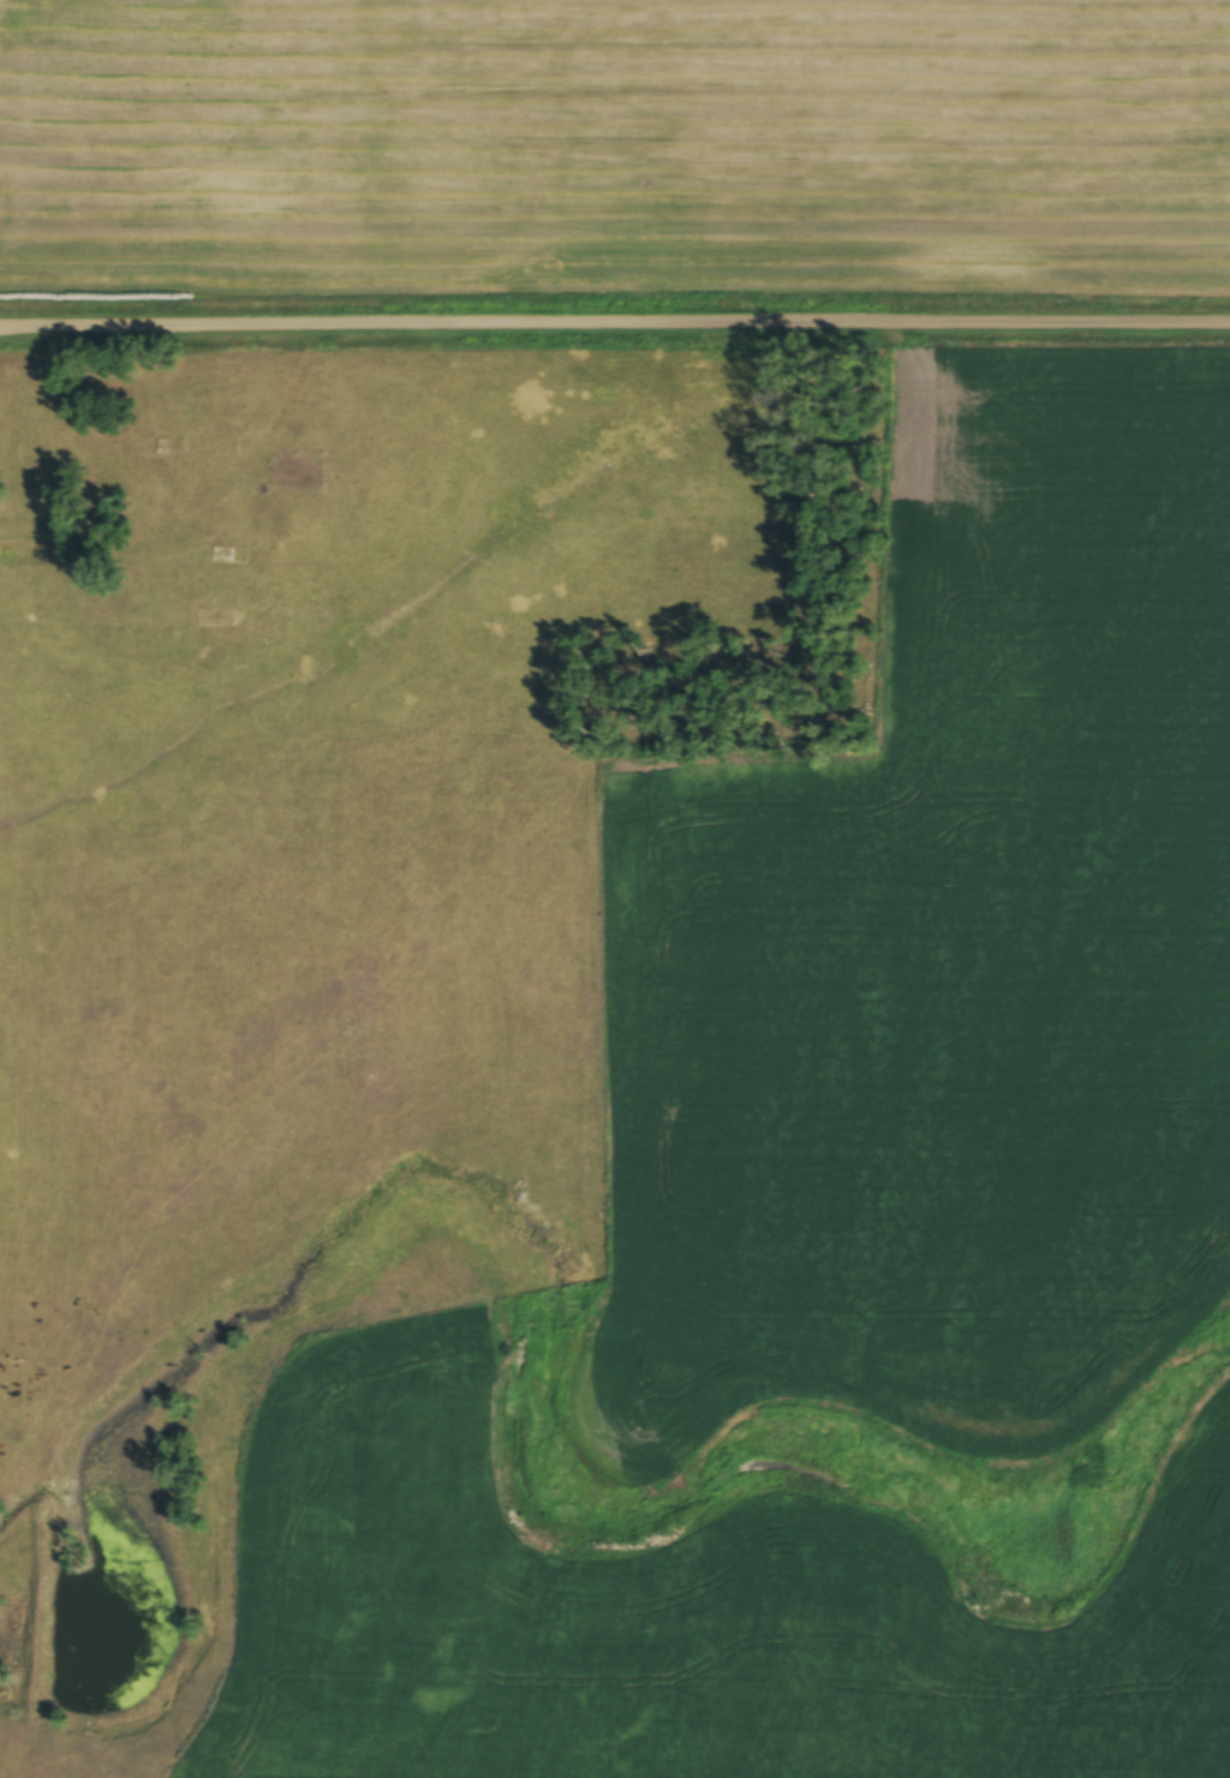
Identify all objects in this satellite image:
road: (614, 326)

